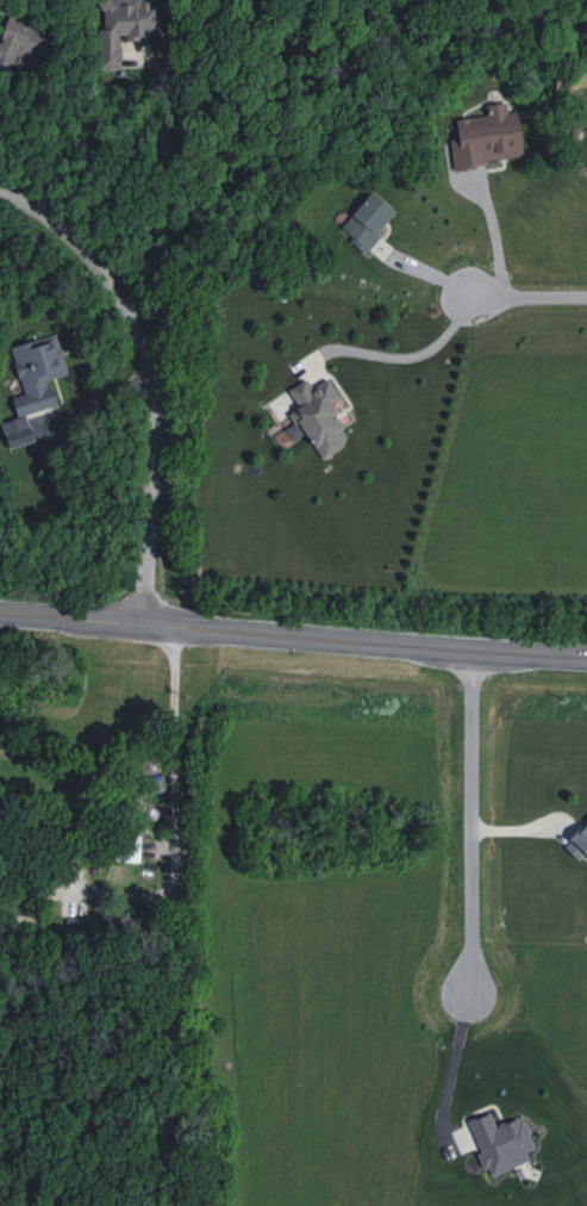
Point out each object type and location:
building: (125, 27)
building: (21, 42)
building: (491, 135)
building: (367, 222)
road: (169, 223)
road: (495, 242)
road: (532, 305)
road: (398, 366)
road: (146, 377)
building: (33, 384)
building: (314, 418)
road: (293, 639)
road: (177, 804)
road: (470, 823)
building: (581, 838)
road: (176, 988)
road: (454, 1078)
building: (501, 1142)

